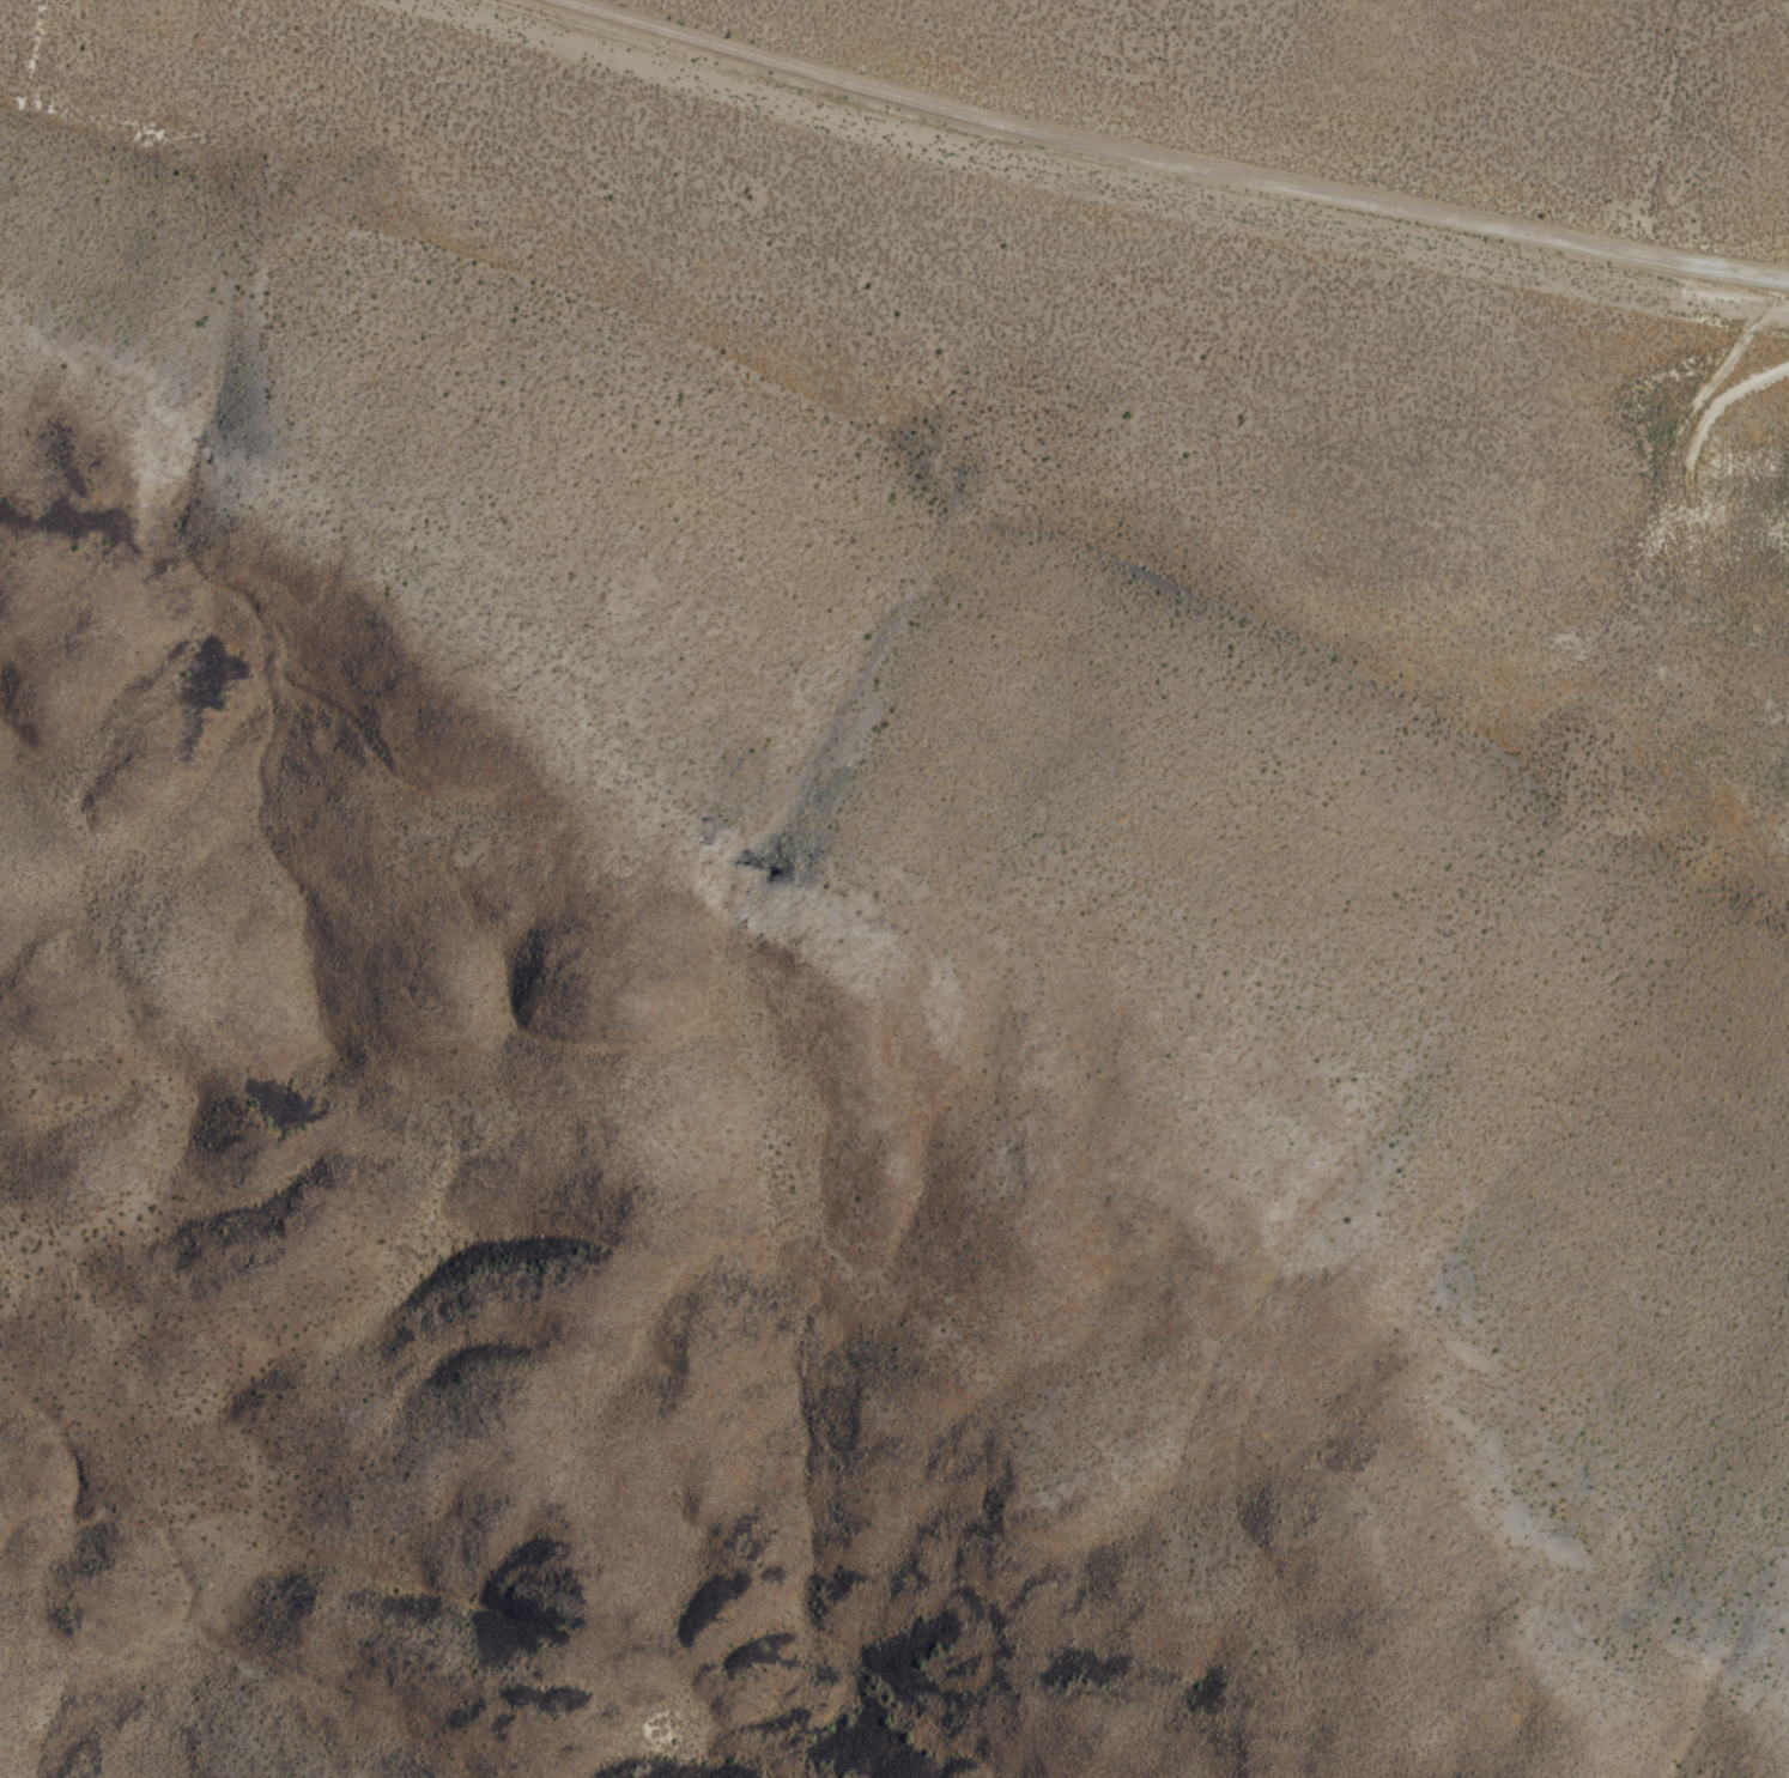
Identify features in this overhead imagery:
road: (1164, 158)

